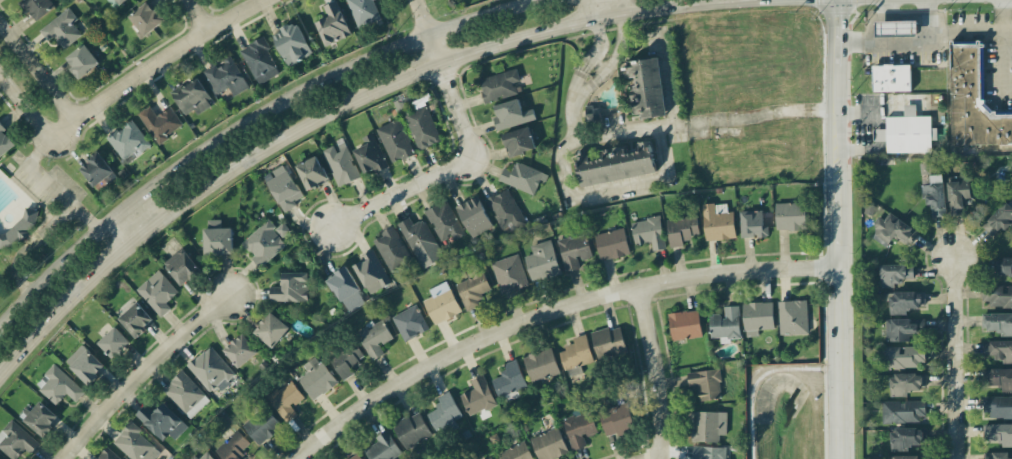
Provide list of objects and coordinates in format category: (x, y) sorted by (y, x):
building: (121, 1)
road: (746, 1)
building: (37, 6)
road: (610, 7)
road: (911, 10)
building: (364, 11)
road: (202, 13)
road: (1003, 15)
road: (425, 16)
building: (146, 17)
road: (875, 18)
road: (580, 22)
building: (333, 23)
road: (929, 24)
building: (896, 27)
building: (62, 28)
road: (924, 39)
building: (292, 43)
road: (599, 43)
road: (436, 49)
road: (617, 49)
road: (160, 59)
building: (82, 60)
building: (260, 60)
road: (598, 64)
road: (1003, 64)
road: (38, 73)
road: (412, 75)
building: (226, 77)
building: (891, 77)
road: (580, 79)
road: (667, 83)
building: (499, 84)
road: (586, 84)
building: (646, 86)
building: (192, 96)
building: (973, 101)
road: (27, 107)
building: (512, 114)
building: (592, 115)
road: (747, 117)
building: (160, 122)
road: (246, 125)
building: (422, 126)
building: (907, 132)
building: (128, 140)
building: (395, 140)
building: (519, 140)
building: (5, 141)
road: (259, 151)
building: (370, 154)
building: (341, 163)
building: (615, 164)
building: (96, 168)
road: (662, 168)
road: (447, 169)
building: (312, 172)
road: (35, 173)
building: (522, 177)
building: (284, 189)
building: (957, 193)
building: (935, 194)
building: (505, 209)
building: (790, 215)
building: (474, 216)
road: (136, 219)
building: (999, 219)
building: (718, 221)
building: (445, 222)
building: (753, 224)
building: (681, 229)
road: (837, 229)
building: (893, 230)
building: (648, 232)
road: (41, 234)
road: (115, 235)
building: (217, 238)
building: (265, 241)
building: (421, 241)
building: (612, 243)
building: (391, 249)
building: (574, 250)
road: (118, 254)
building: (542, 261)
building: (1003, 265)
building: (181, 266)
building: (371, 271)
building: (510, 273)
building: (895, 273)
building: (291, 287)
building: (346, 289)
building: (473, 290)
building: (157, 292)
building: (997, 295)
building: (906, 300)
building: (441, 302)
road: (547, 309)
building: (757, 316)
building: (793, 316)
building: (136, 319)
building: (410, 322)
building: (726, 323)
building: (999, 323)
building: (685, 324)
road: (45, 327)
building: (903, 328)
building: (271, 329)
building: (374, 337)
building: (114, 341)
building: (609, 341)
building: (998, 349)
building: (240, 350)
building: (576, 354)
building: (903, 356)
road: (955, 358)
building: (346, 360)
building: (85, 363)
building: (541, 364)
building: (211, 369)
road: (139, 370)
road: (656, 370)
building: (316, 377)
building: (999, 377)
building: (509, 379)
building: (706, 383)
building: (906, 383)
building: (58, 384)
building: (185, 394)
building: (478, 396)
building: (285, 399)
building: (997, 406)
building: (904, 410)
building: (444, 413)
building: (41, 417)
building: (616, 418)
building: (162, 421)
building: (262, 424)
building: (709, 425)
building: (579, 428)
building: (412, 429)
building: (1000, 433)
building: (906, 437)
building: (16, 439)
building: (135, 443)
building: (549, 444)
building: (232, 446)
building: (383, 447)
building: (516, 452)
building: (709, 452)
building: (107, 454)
building: (997, 455)
building: (203, 456)
building: (356, 456)
building: (908, 456)
road: (653, 457)
building: (490, 458)

